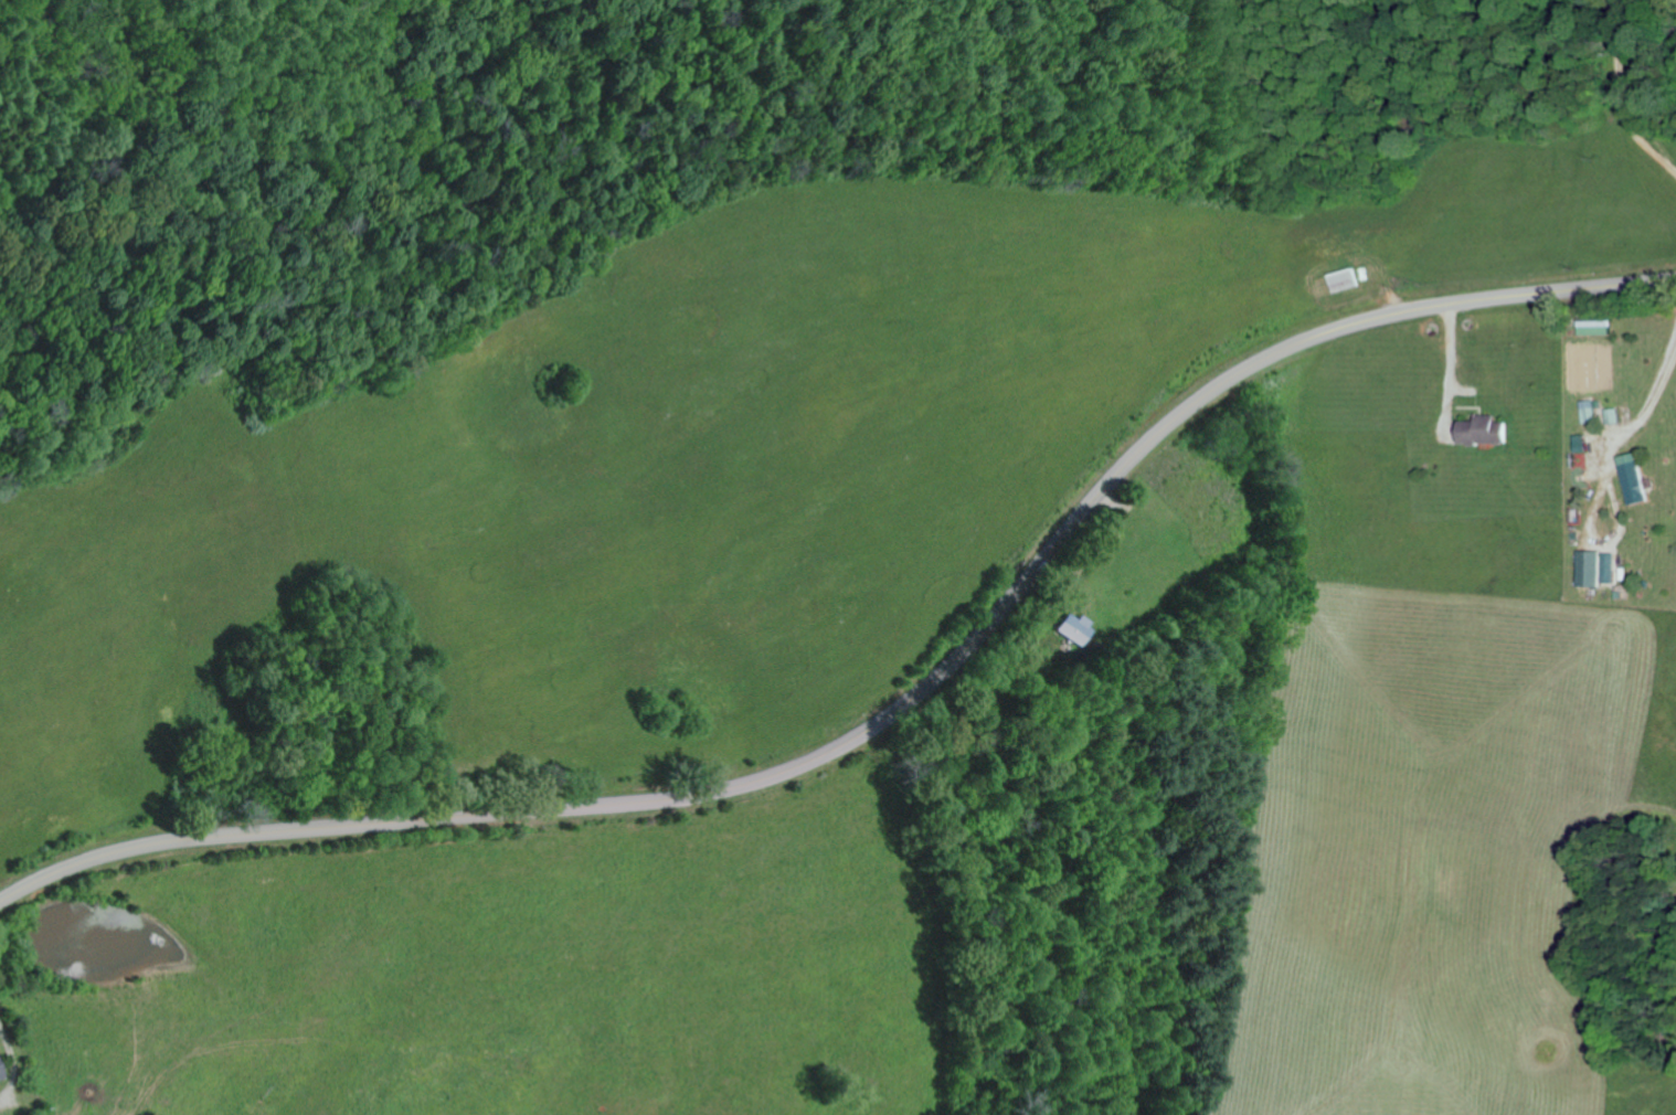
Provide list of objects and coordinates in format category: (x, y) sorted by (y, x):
building: (1488, 429)
building: (1640, 478)
building: (1591, 567)
road: (899, 709)
building: (2, 1070)

